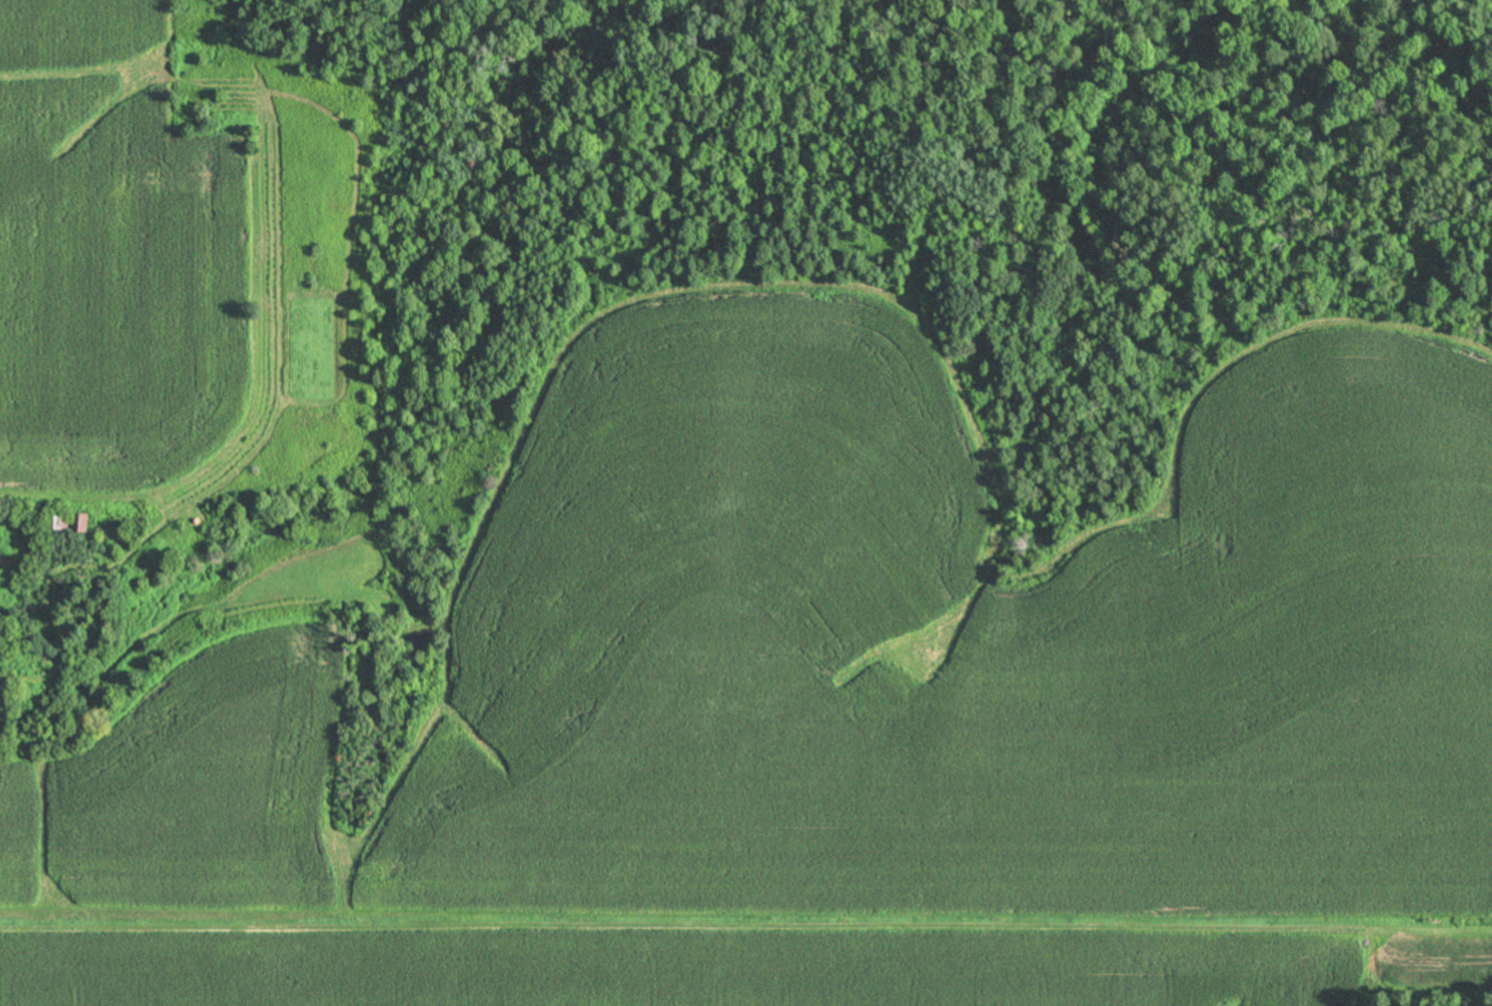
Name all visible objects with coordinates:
building: (56, 521)
building: (79, 522)

